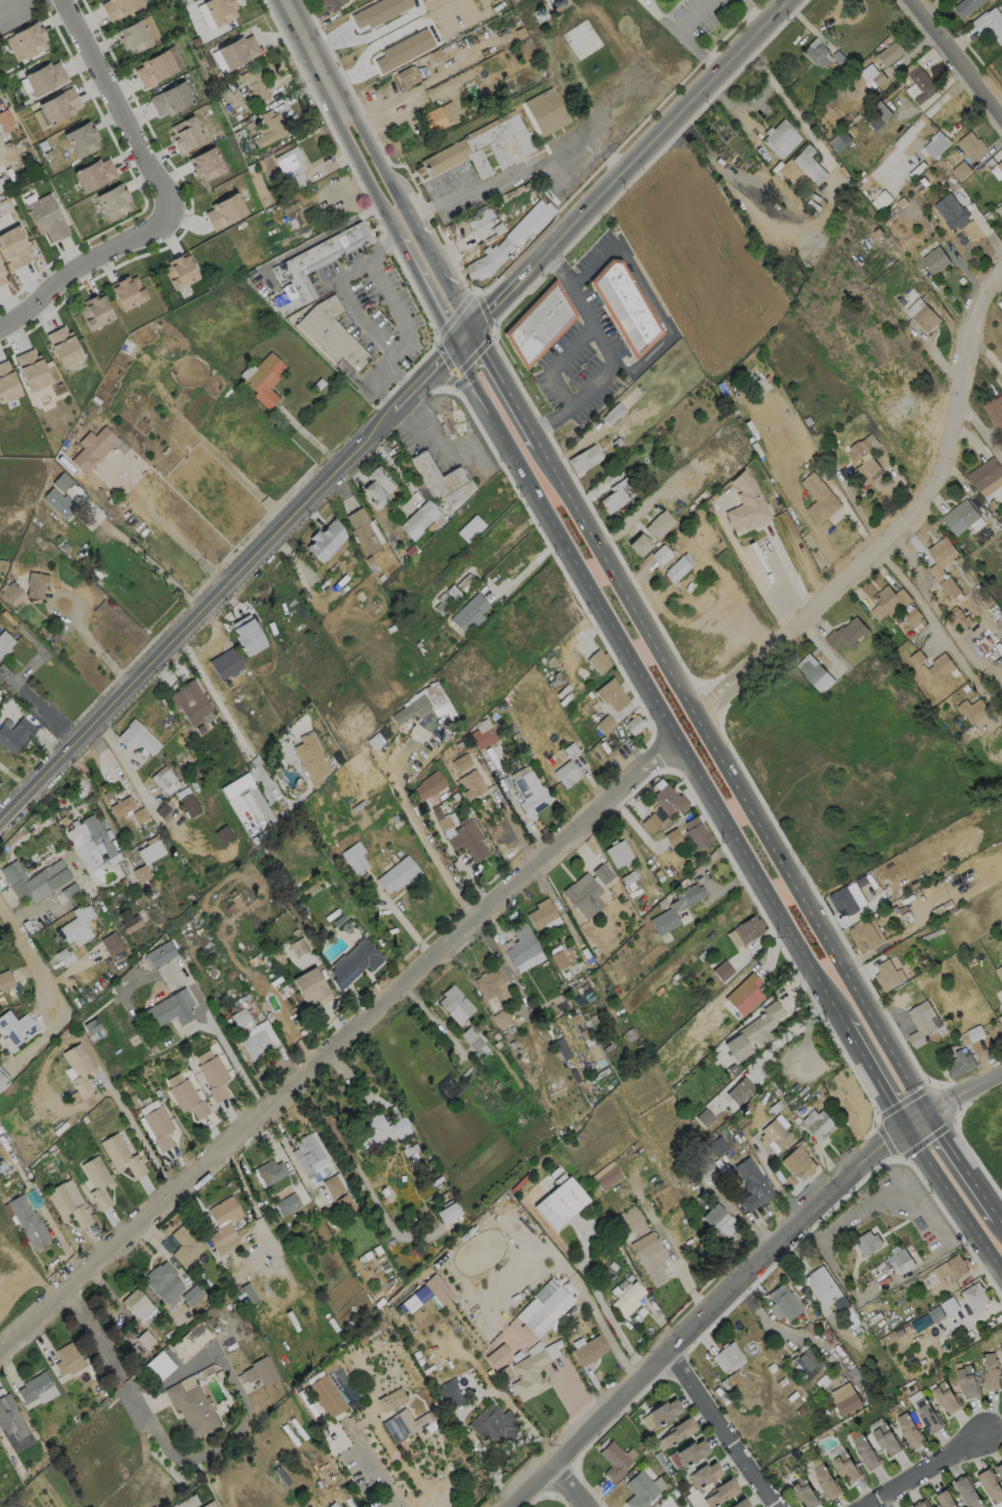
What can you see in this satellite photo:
building: (330, 4)
building: (965, 6)
building: (117, 7)
building: (368, 8)
building: (219, 9)
road: (754, 12)
building: (989, 23)
building: (133, 34)
road: (685, 36)
building: (29, 38)
building: (396, 40)
building: (237, 50)
building: (404, 50)
building: (889, 52)
building: (815, 53)
road: (956, 60)
building: (154, 67)
building: (871, 75)
building: (44, 76)
building: (406, 76)
building: (255, 84)
building: (922, 85)
building: (170, 98)
road: (789, 103)
building: (58, 104)
road: (122, 106)
road: (740, 108)
building: (546, 111)
road: (393, 112)
building: (878, 117)
building: (433, 119)
building: (270, 126)
building: (185, 133)
building: (81, 139)
building: (781, 139)
building: (839, 140)
building: (936, 144)
building: (971, 144)
building: (479, 148)
building: (206, 163)
road: (383, 164)
building: (807, 164)
building: (292, 165)
building: (999, 165)
building: (960, 170)
road: (522, 171)
road: (624, 171)
building: (94, 173)
road: (366, 173)
building: (1, 185)
building: (112, 200)
building: (999, 209)
building: (225, 210)
building: (951, 211)
building: (292, 212)
building: (46, 217)
building: (478, 217)
building: (509, 240)
building: (13, 246)
building: (935, 259)
building: (317, 260)
road: (83, 266)
building: (180, 270)
building: (2, 275)
building: (128, 291)
road: (350, 303)
building: (625, 306)
building: (95, 310)
building: (922, 314)
building: (539, 324)
road: (405, 327)
traffic signals: (474, 328)
building: (330, 333)
building: (63, 343)
traffic signals: (460, 345)
road: (611, 350)
building: (31, 366)
road: (459, 370)
building: (263, 378)
building: (7, 381)
building: (993, 412)
building: (613, 414)
road: (980, 429)
building: (863, 446)
building: (92, 448)
building: (583, 457)
building: (868, 469)
building: (435, 475)
building: (986, 476)
building: (61, 482)
building: (378, 485)
building: (618, 493)
building: (819, 498)
building: (58, 502)
building: (745, 505)
building: (960, 516)
building: (418, 519)
building: (659, 523)
road: (898, 523)
building: (362, 529)
building: (325, 539)
road: (179, 541)
building: (639, 544)
building: (942, 551)
building: (661, 554)
road: (155, 561)
building: (343, 563)
building: (1001, 564)
building: (678, 567)
road: (789, 572)
building: (34, 584)
road: (231, 587)
building: (12, 593)
building: (884, 602)
building: (441, 603)
road: (933, 607)
building: (469, 613)
building: (912, 615)
building: (957, 617)
road: (75, 618)
building: (846, 633)
building: (247, 635)
road: (942, 635)
building: (4, 642)
building: (909, 652)
building: (597, 660)
building: (225, 663)
building: (940, 666)
building: (814, 672)
building: (610, 693)
building: (190, 702)
building: (437, 703)
building: (408, 708)
building: (973, 711)
road: (227, 722)
building: (427, 722)
building: (634, 723)
building: (604, 724)
building: (15, 733)
building: (481, 734)
building: (137, 737)
building: (307, 756)
building: (461, 762)
road: (125, 766)
building: (567, 772)
road: (735, 772)
building: (162, 777)
building: (472, 784)
building: (236, 785)
building: (427, 785)
building: (668, 799)
building: (533, 802)
building: (189, 805)
building: (120, 806)
road: (725, 806)
building: (652, 821)
road: (513, 828)
building: (695, 832)
building: (672, 837)
road: (422, 838)
building: (467, 838)
building: (92, 841)
building: (150, 851)
building: (618, 852)
building: (353, 857)
building: (399, 874)
building: (601, 874)
building: (34, 879)
building: (583, 894)
building: (843, 900)
building: (675, 908)
building: (543, 915)
building: (131, 923)
building: (75, 926)
building: (747, 928)
building: (863, 936)
building: (289, 942)
building: (111, 944)
building: (521, 944)
building: (159, 954)
building: (65, 956)
building: (559, 959)
road: (31, 960)
building: (354, 961)
building: (722, 970)
building: (999, 971)
building: (887, 975)
building: (5, 979)
building: (489, 982)
building: (311, 986)
building: (743, 994)
building: (455, 1004)
building: (1001, 1006)
building: (172, 1007)
building: (1000, 1019)
building: (920, 1022)
building: (15, 1026)
building: (752, 1031)
building: (257, 1039)
building: (474, 1041)
road: (342, 1043)
road: (773, 1043)
building: (960, 1063)
road: (237, 1067)
building: (79, 1068)
building: (212, 1074)
building: (3, 1080)
building: (446, 1087)
building: (739, 1090)
road: (959, 1092)
building: (185, 1095)
traffic signals: (932, 1106)
building: (704, 1117)
traffic signals: (909, 1123)
building: (820, 1125)
building: (159, 1127)
building: (379, 1128)
road: (136, 1132)
building: (775, 1134)
building: (716, 1145)
building: (307, 1153)
building: (121, 1156)
building: (798, 1162)
building: (701, 1164)
building: (270, 1171)
building: (606, 1176)
road: (241, 1180)
building: (97, 1181)
building: (333, 1185)
building: (752, 1185)
building: (68, 1202)
building: (560, 1202)
building: (287, 1204)
building: (447, 1212)
building: (28, 1221)
building: (718, 1223)
building: (223, 1225)
building: (868, 1242)
building: (185, 1244)
building: (362, 1247)
building: (898, 1255)
building: (652, 1260)
building: (950, 1268)
building: (161, 1281)
building: (823, 1286)
building: (245, 1291)
building: (973, 1295)
building: (628, 1299)
building: (133, 1300)
building: (782, 1302)
building: (543, 1306)
road: (716, 1311)
building: (850, 1321)
road: (606, 1332)
building: (190, 1341)
building: (589, 1350)
building: (727, 1356)
building: (67, 1359)
building: (762, 1360)
building: (807, 1362)
building: (989, 1371)
building: (259, 1372)
building: (529, 1374)
building: (775, 1374)
building: (967, 1381)
building: (36, 1388)
building: (784, 1388)
building: (448, 1393)
building: (325, 1395)
building: (946, 1397)
building: (845, 1398)
building: (390, 1399)
building: (191, 1409)
building: (663, 1411)
building: (927, 1415)
building: (10, 1418)
building: (403, 1424)
building: (492, 1424)
road: (731, 1427)
building: (909, 1430)
building: (678, 1431)
building: (886, 1439)
road: (162, 1443)
building: (691, 1451)
building: (865, 1452)
building: (613, 1461)
building: (845, 1467)
road: (926, 1470)
building: (999, 1470)
building: (703, 1474)
road: (370, 1477)
road: (581, 1481)
building: (826, 1482)
building: (990, 1485)
building: (639, 1490)
building: (720, 1492)
building: (803, 1492)
building: (968, 1492)
building: (945, 1499)
building: (739, 1503)
building: (920, 1504)
building: (211, 1505)
building: (332, 1505)

